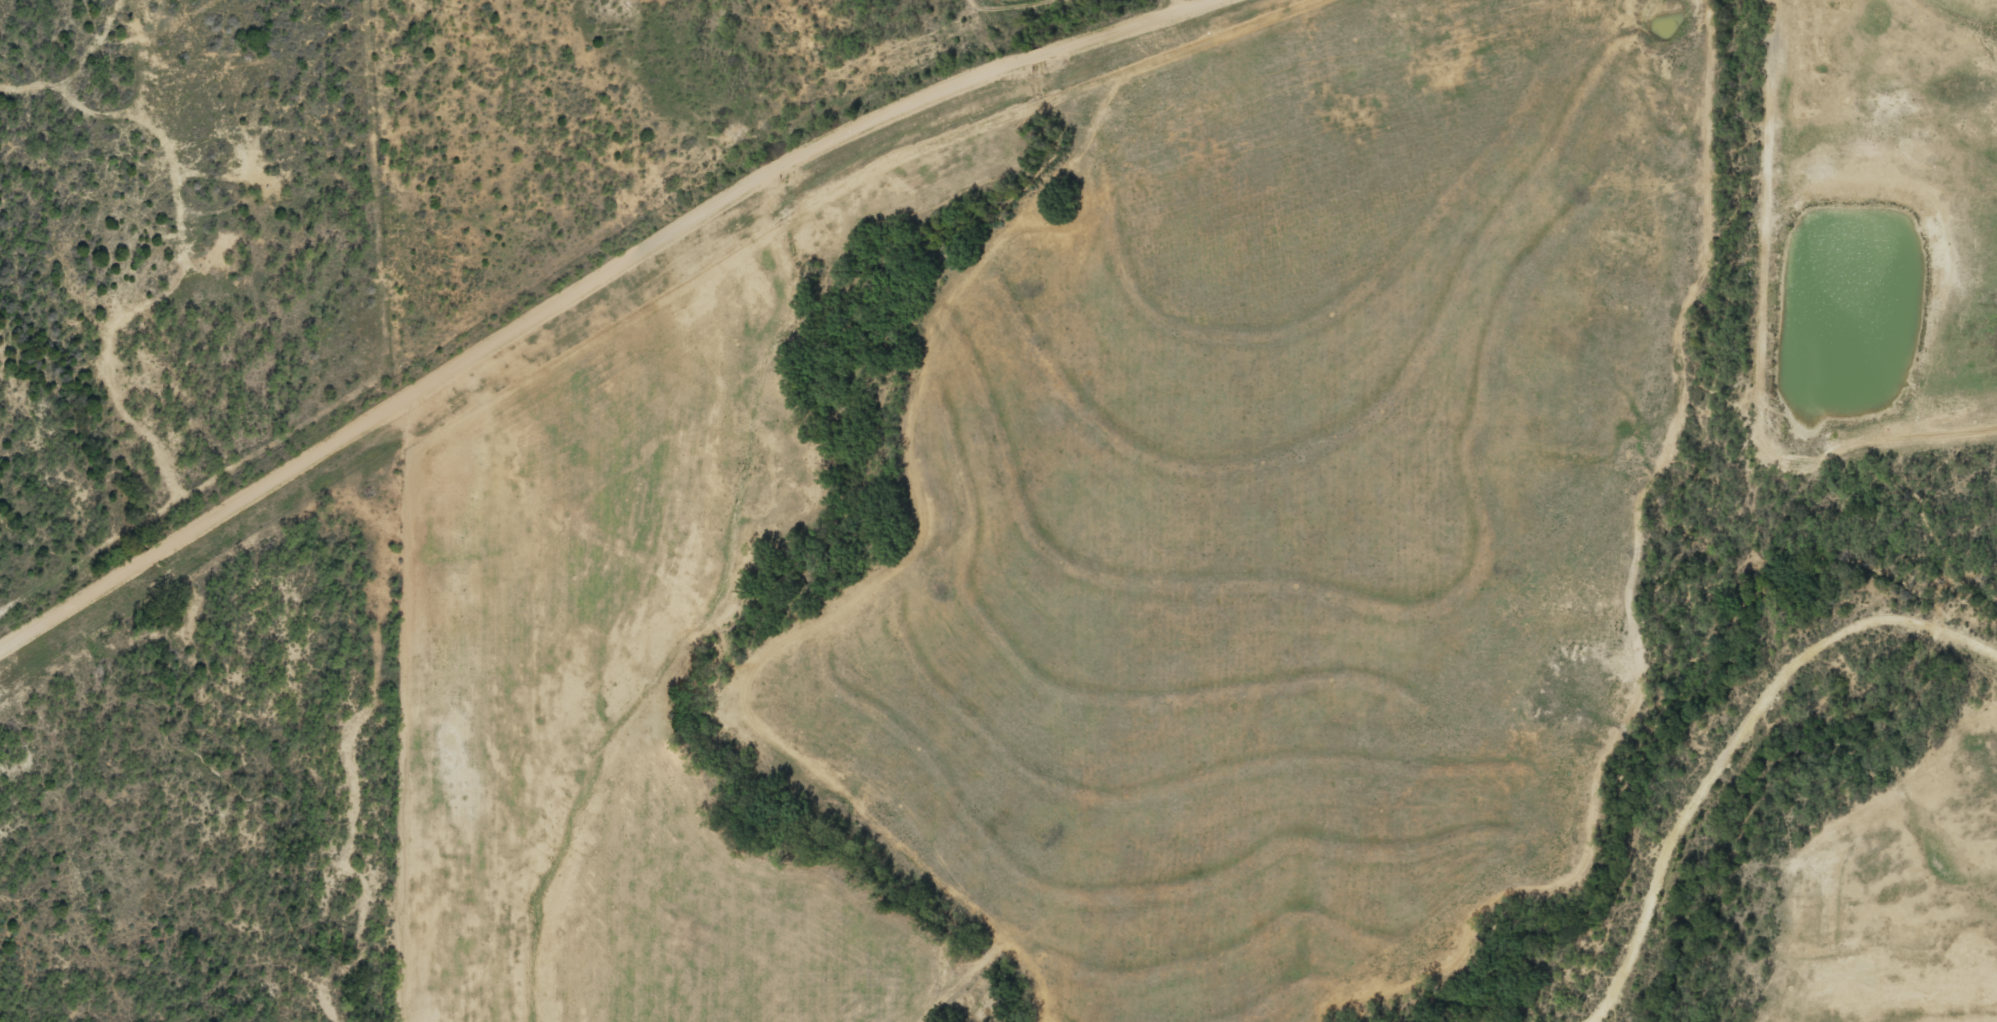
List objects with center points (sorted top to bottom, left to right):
road: (589, 291)
road: (1771, 785)

